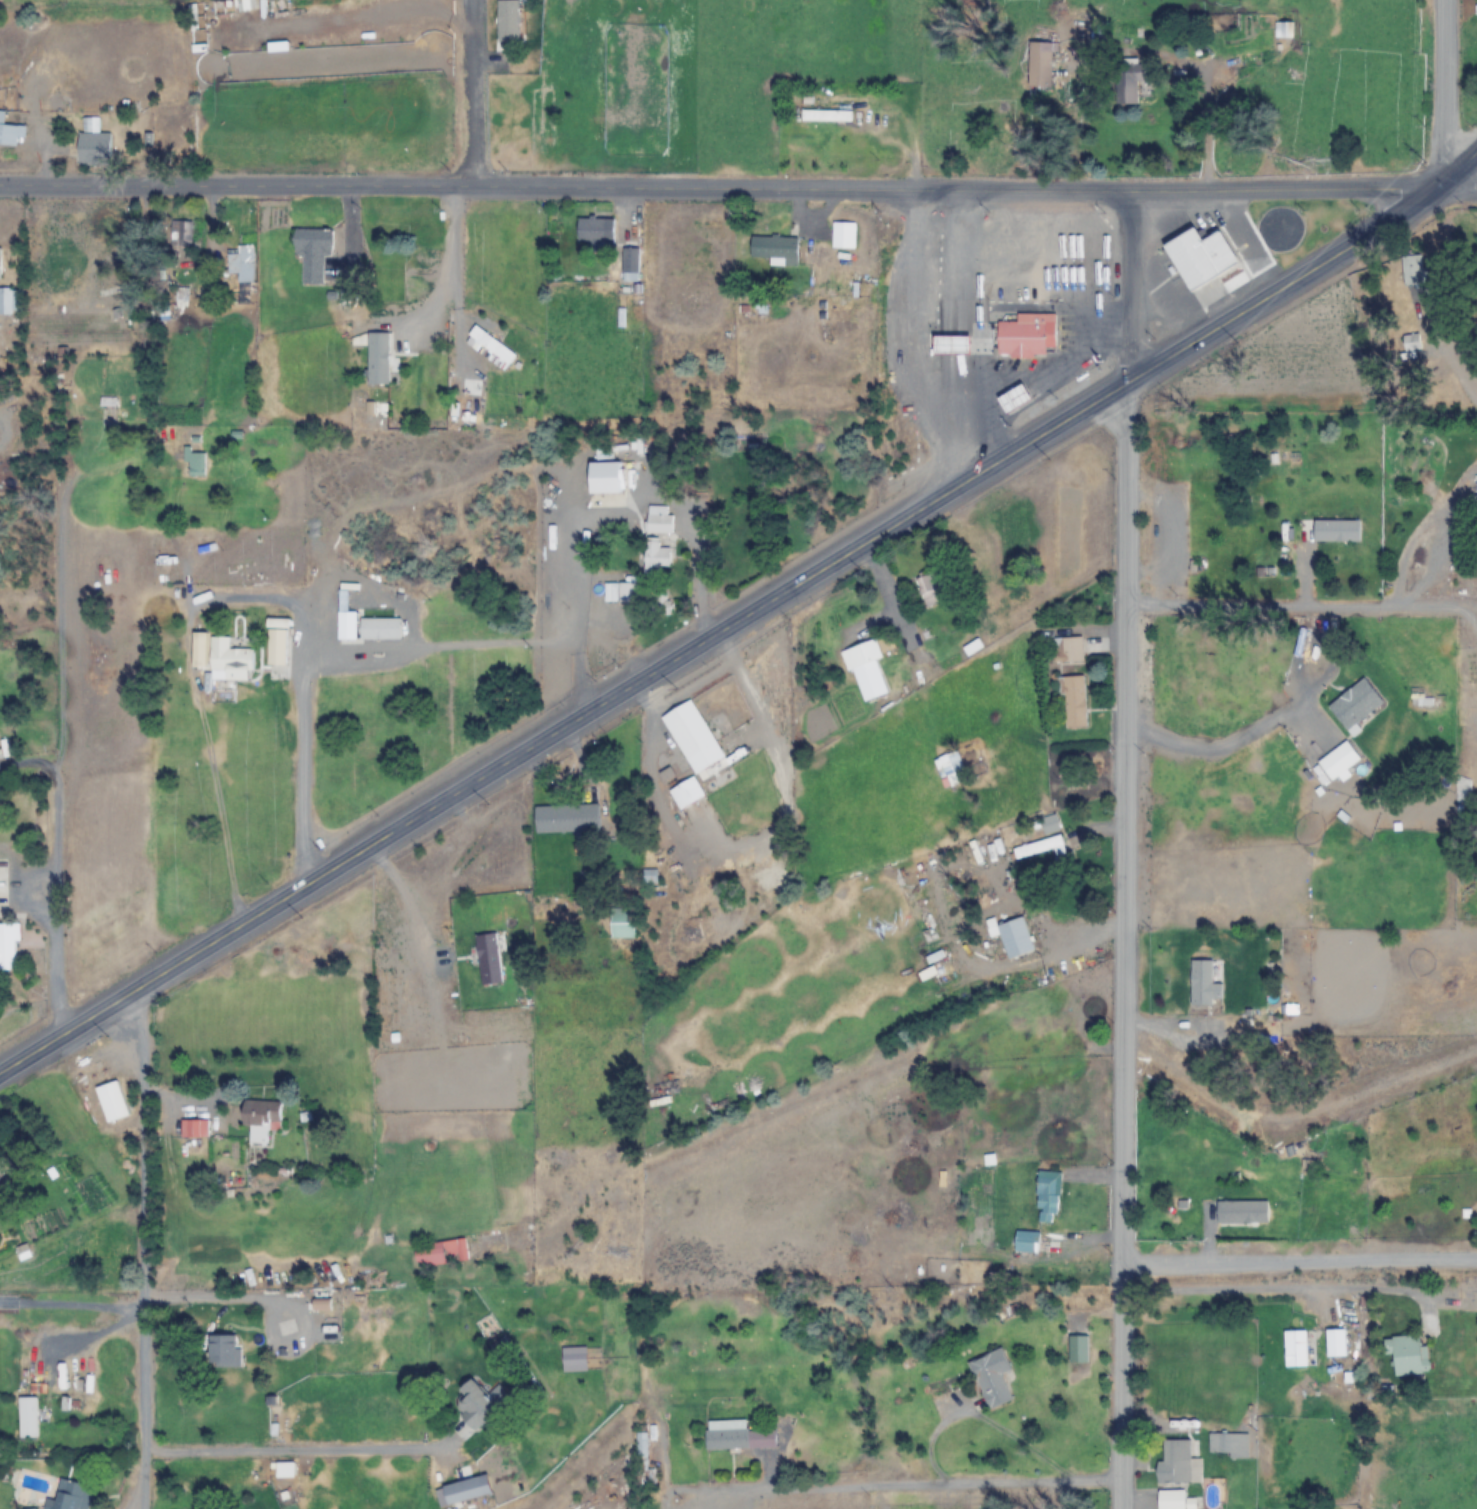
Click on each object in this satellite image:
building: (511, 24)
building: (1284, 30)
crop: (768, 37)
building: (1040, 64)
building: (1127, 82)
road: (473, 92)
road: (1442, 94)
building: (826, 116)
building: (10, 132)
building: (94, 144)
road: (720, 186)
road: (1459, 189)
building: (592, 229)
building: (181, 233)
building: (844, 235)
building: (776, 249)
building: (313, 253)
building: (1200, 257)
building: (0, 262)
building: (242, 263)
building: (630, 264)
building: (1413, 271)
road: (1129, 285)
building: (106, 299)
building: (7, 300)
building: (1027, 336)
building: (492, 345)
building: (378, 358)
building: (1018, 396)
building: (108, 401)
building: (195, 463)
building: (610, 477)
building: (1336, 531)
building: (658, 538)
building: (928, 590)
building: (621, 592)
road: (1288, 606)
road: (741, 618)
building: (380, 628)
building: (1067, 649)
building: (230, 661)
building: (866, 670)
building: (1074, 701)
building: (1355, 704)
building: (688, 729)
building: (1338, 761)
building: (949, 768)
building: (687, 793)
building: (566, 817)
building: (1050, 824)
building: (1040, 847)
road: (59, 888)
building: (622, 924)
building: (1015, 937)
road: (1125, 945)
building: (8, 946)
building: (1204, 983)
building: (1072, 1007)
building: (1070, 1041)
crop: (645, 1092)
building: (412, 1094)
building: (112, 1101)
building: (260, 1118)
building: (194, 1128)
building: (2, 1173)
building: (1047, 1199)
building: (1242, 1211)
building: (1026, 1241)
road: (144, 1245)
building: (24, 1251)
building: (441, 1251)
road: (1299, 1258)
building: (1335, 1342)
building: (1296, 1348)
building: (1077, 1349)
building: (223, 1350)
building: (1408, 1355)
building: (991, 1378)
building: (475, 1407)
building: (29, 1416)
building: (736, 1436)
building: (1224, 1445)
building: (641, 1457)
building: (1177, 1462)
road: (906, 1492)
building: (71, 1496)
building: (1171, 1499)

